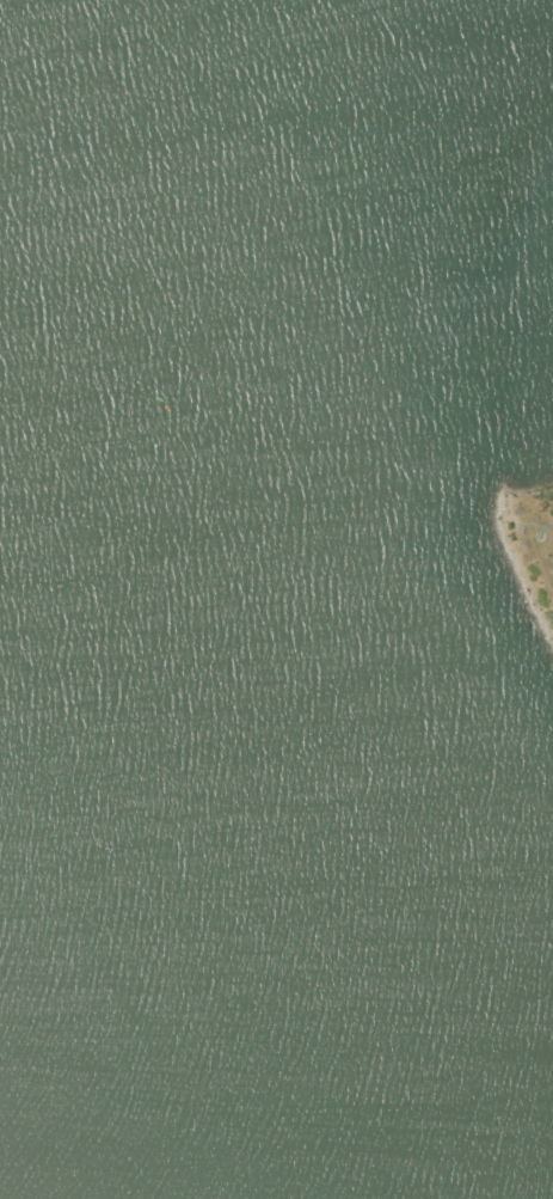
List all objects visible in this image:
road: (547, 525)

